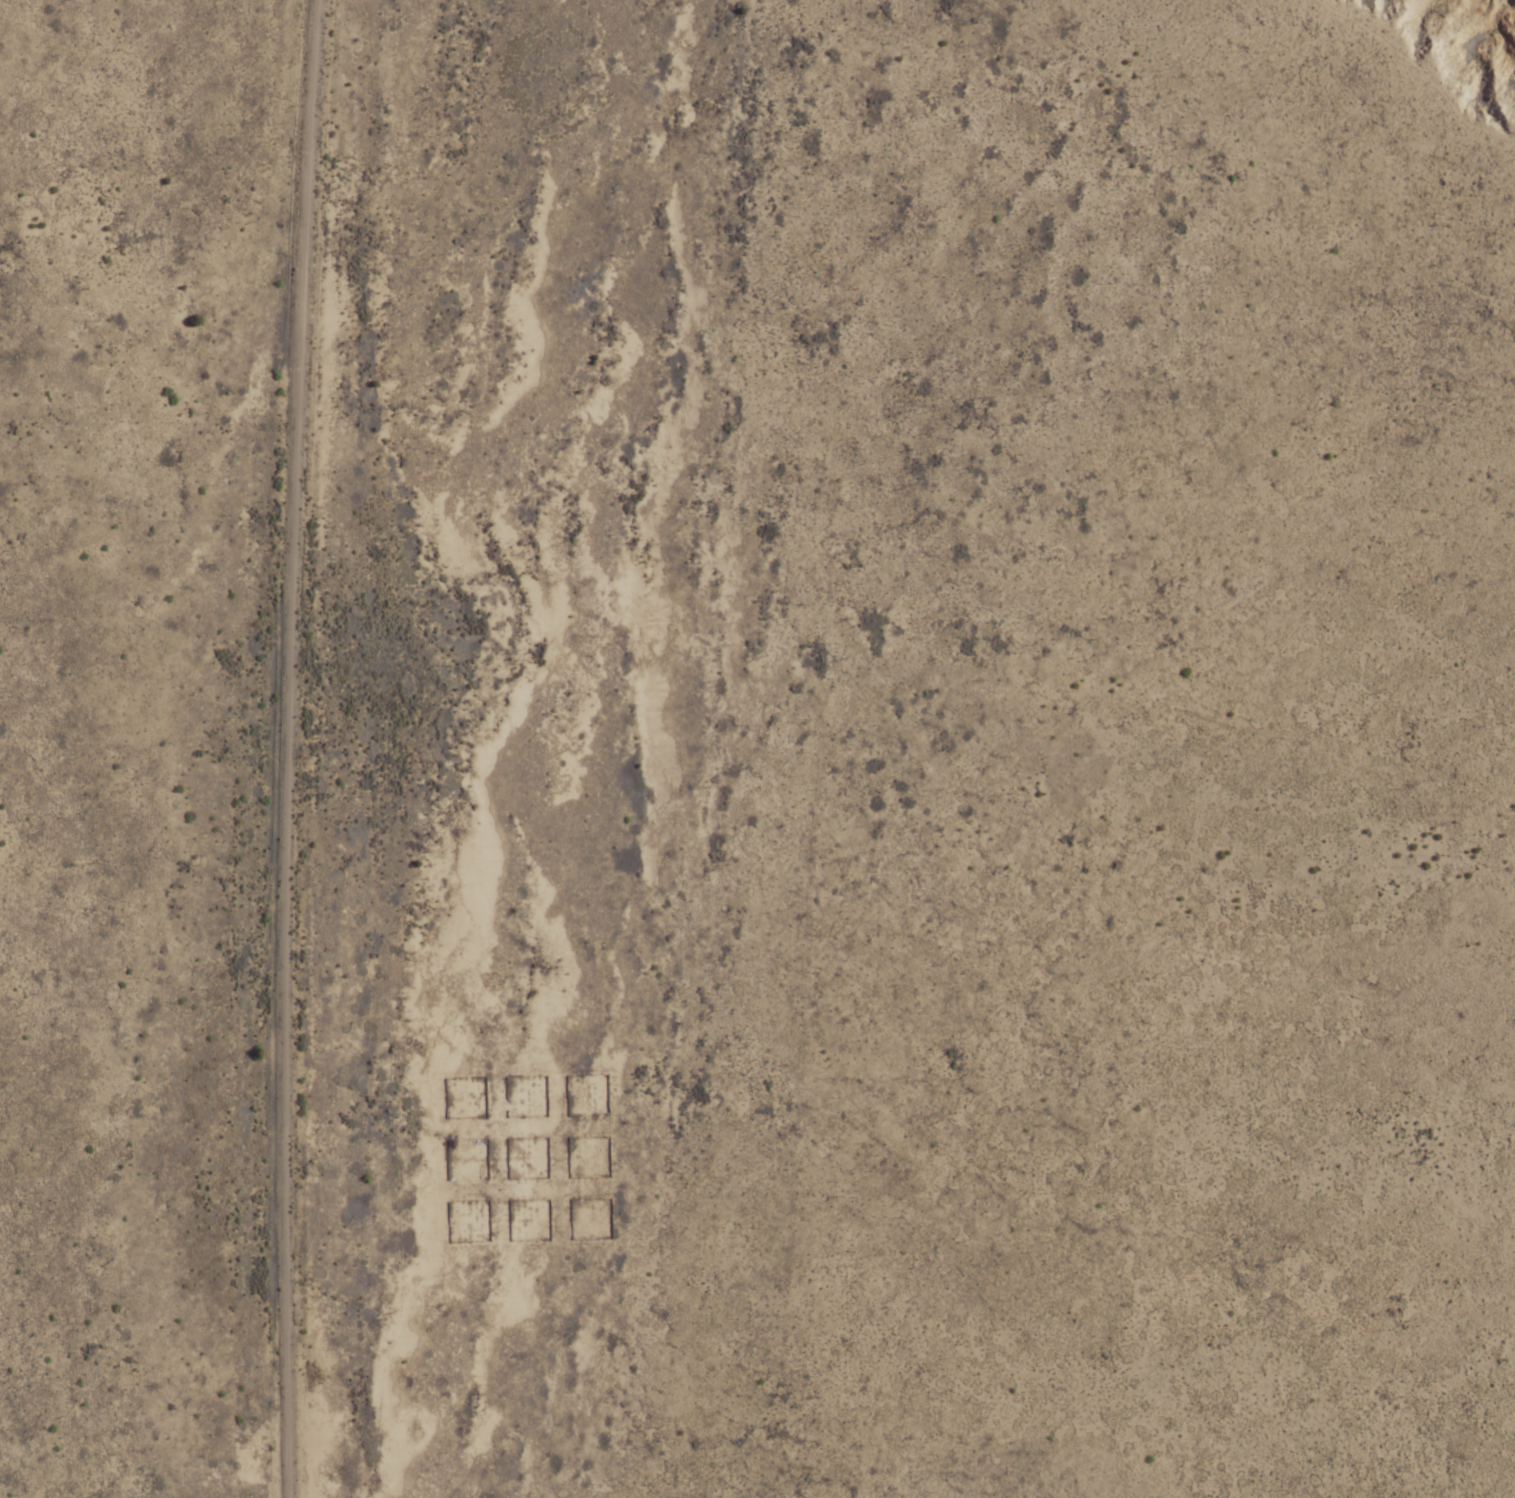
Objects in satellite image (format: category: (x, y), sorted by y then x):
road: (1420, 67)
road: (286, 748)

